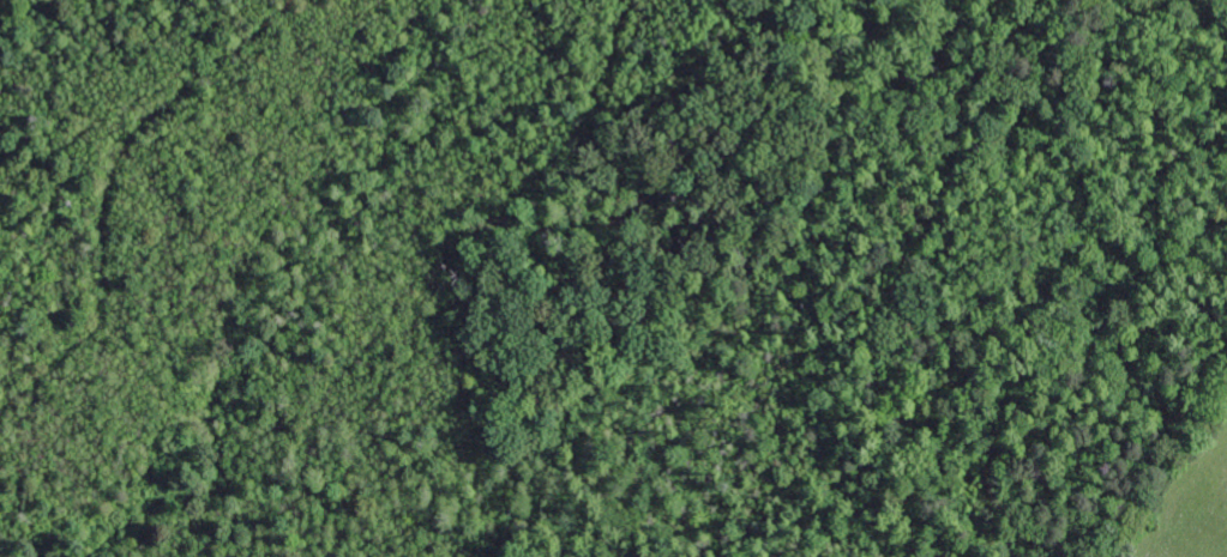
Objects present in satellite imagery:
road: (895, 278)

